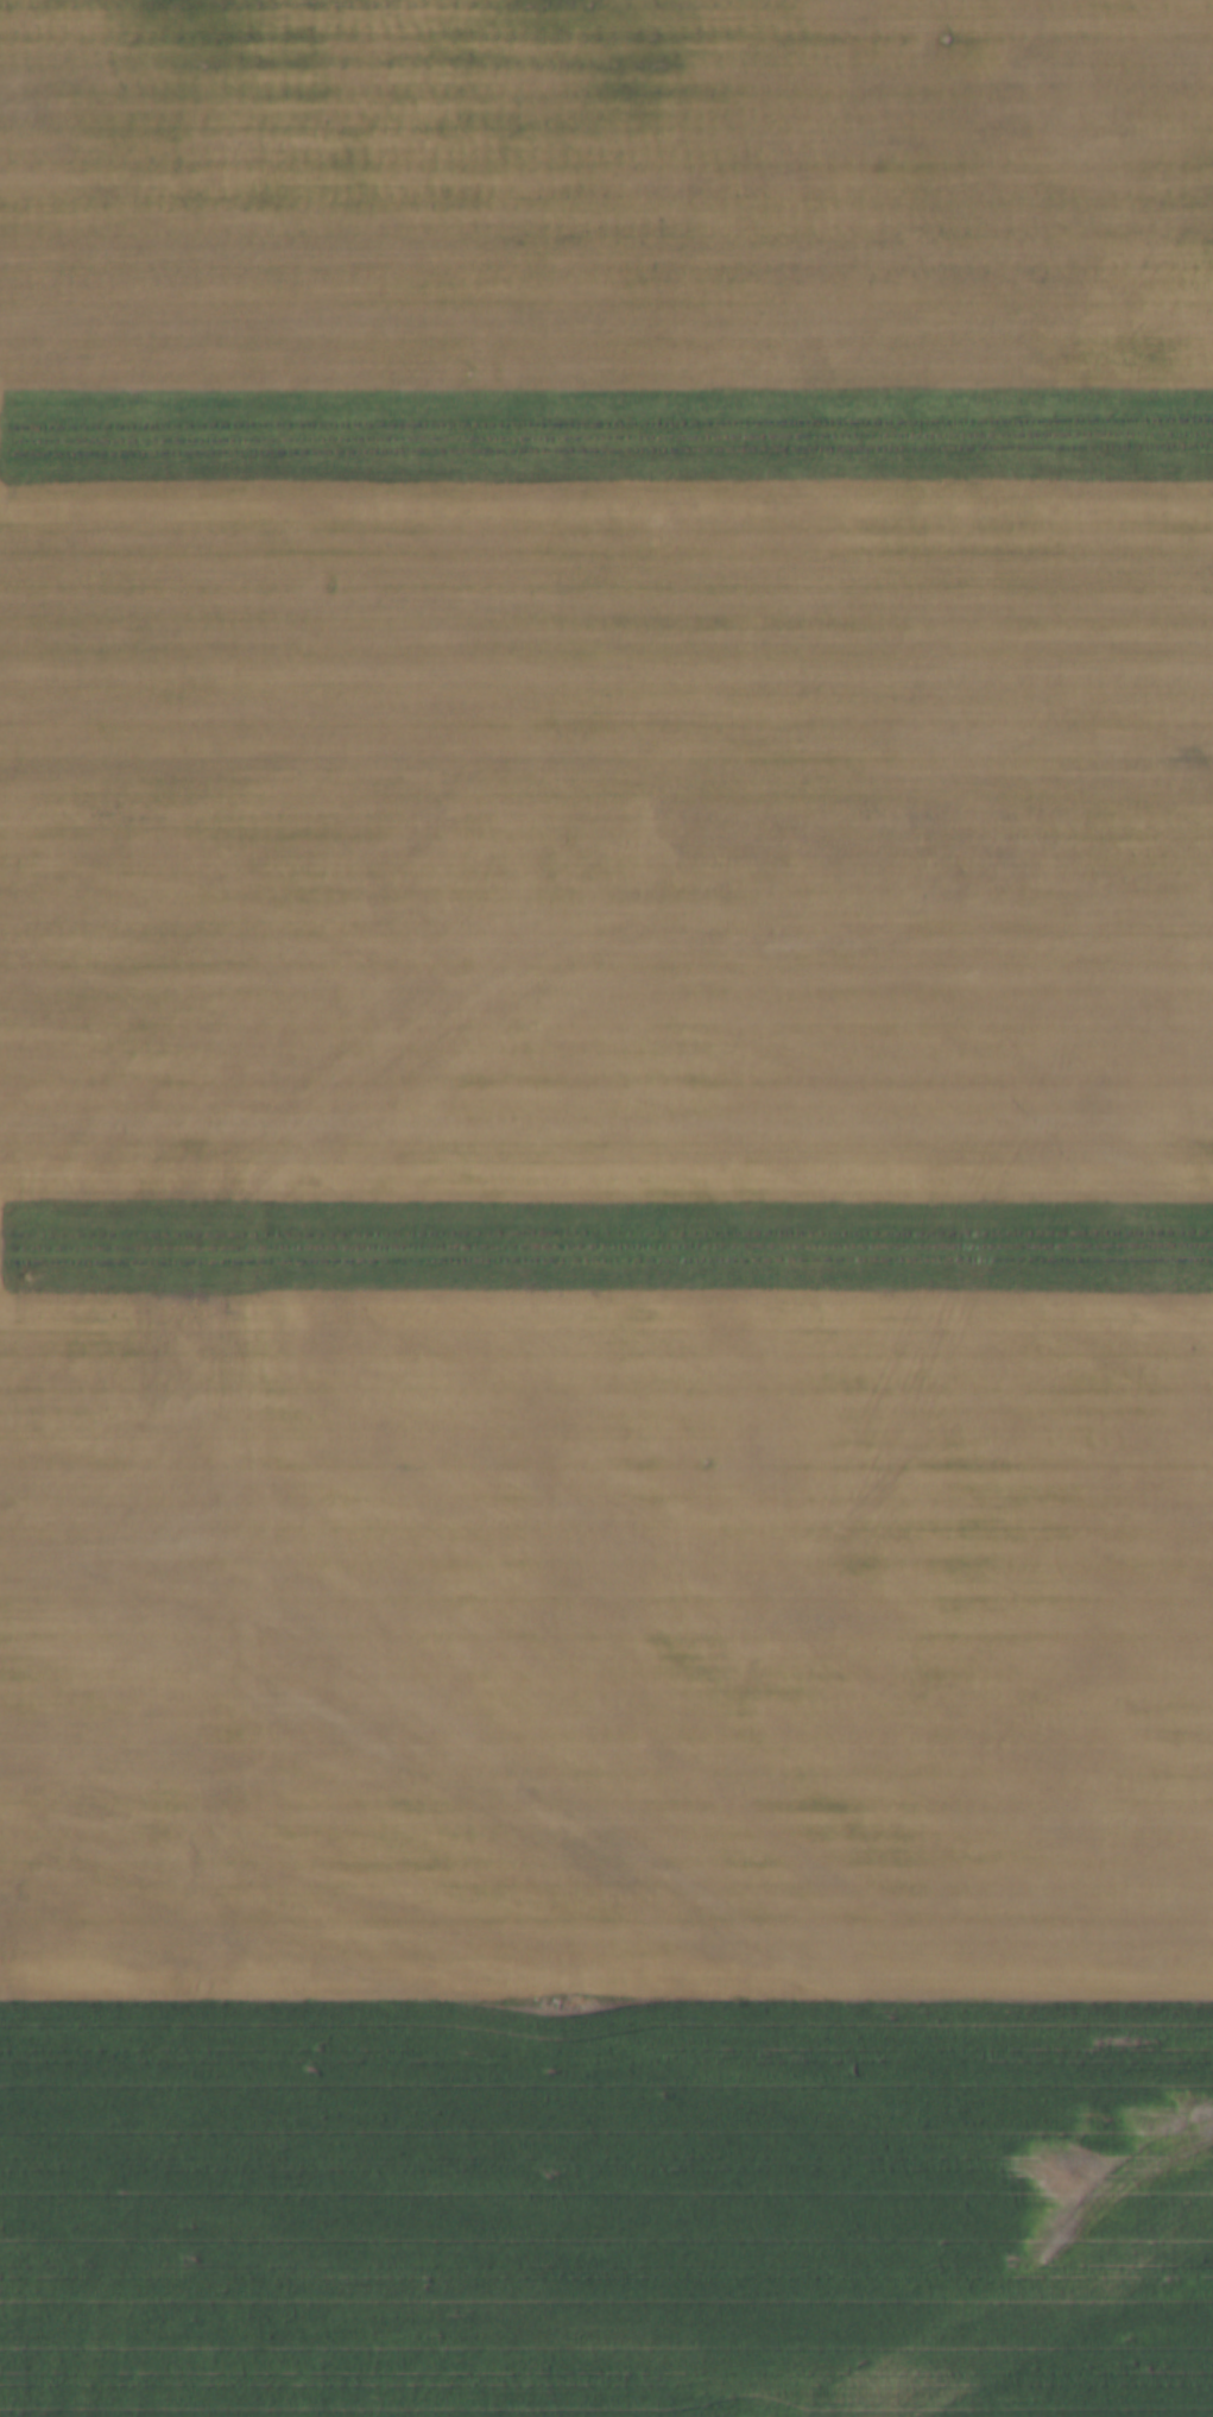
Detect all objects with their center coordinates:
quarry: (541, 575)

